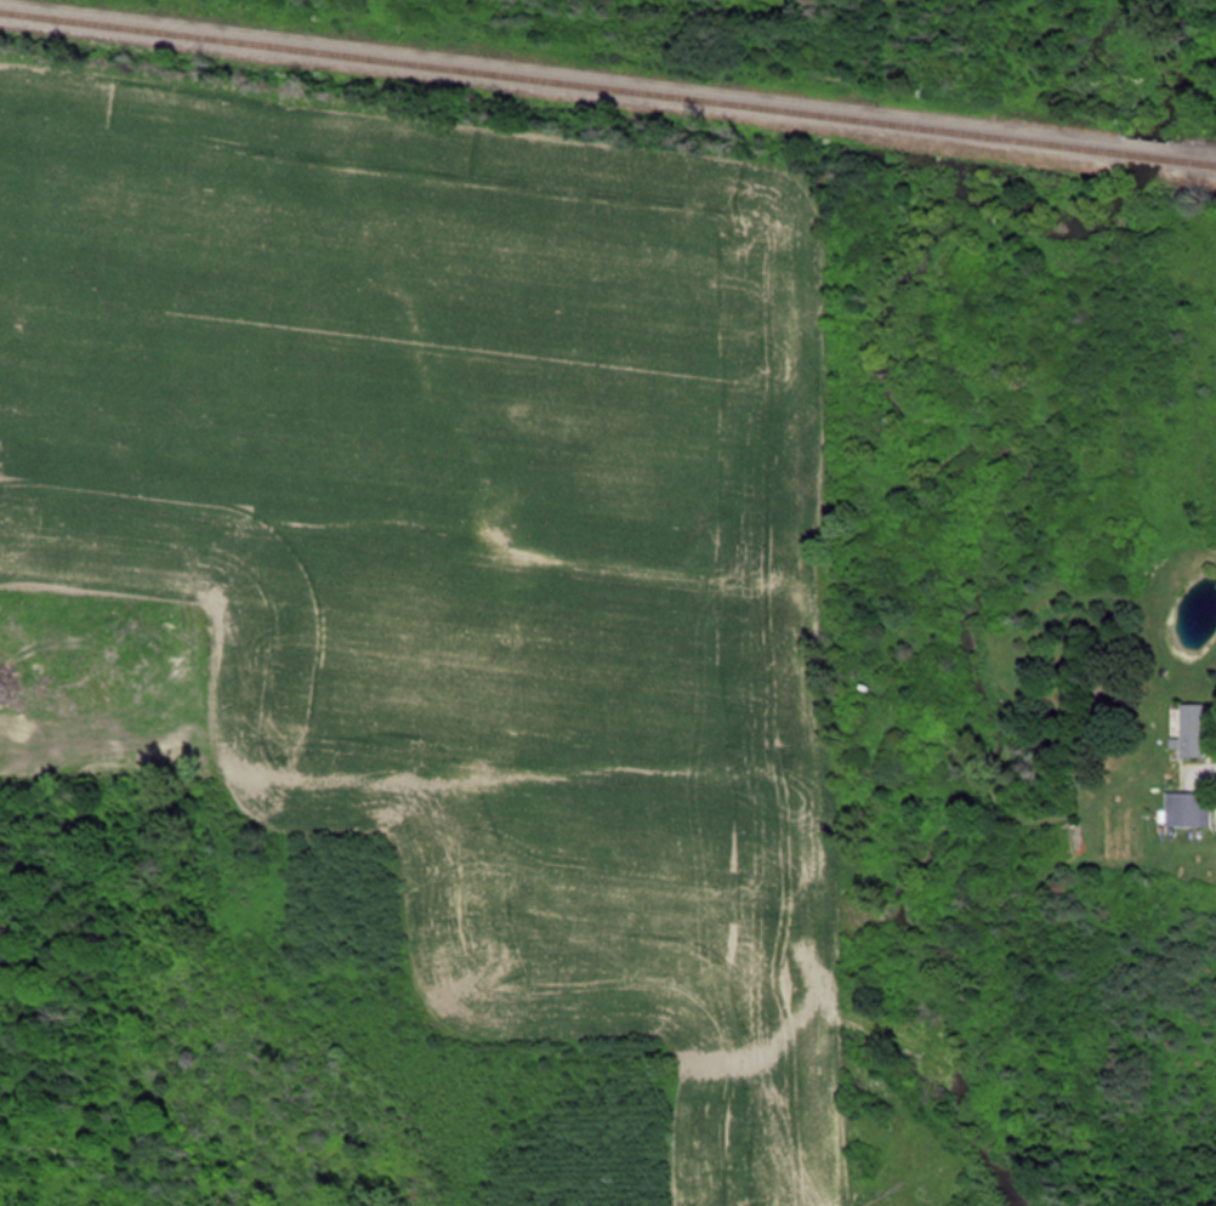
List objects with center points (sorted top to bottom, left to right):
railway: (567, 74)
railway: (1149, 141)
railway: (1191, 146)
building: (1198, 729)
building: (1193, 809)

